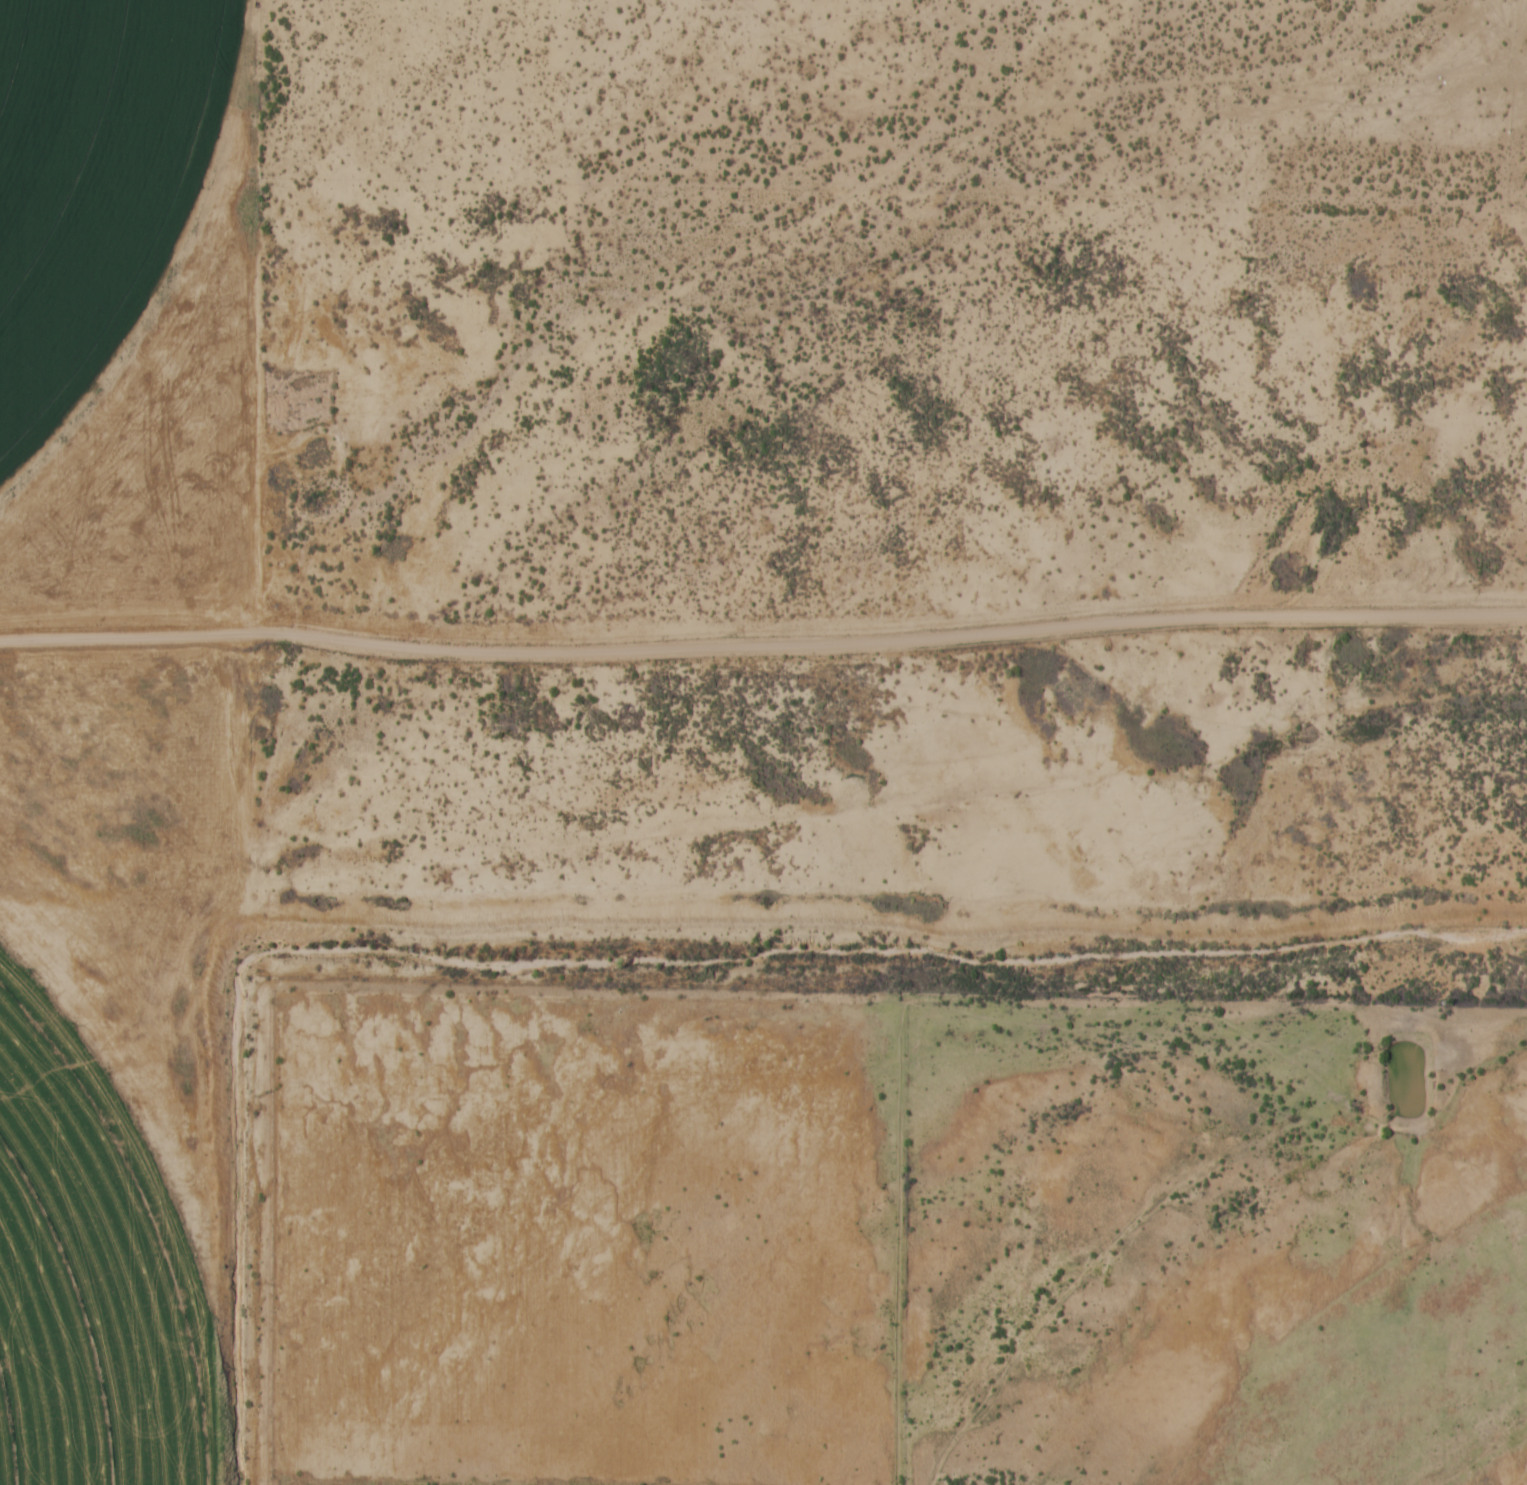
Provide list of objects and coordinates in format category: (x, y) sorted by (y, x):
crop: (94, 179)
road: (129, 638)
road: (892, 643)
crop: (88, 1293)
crop: (1348, 1334)

